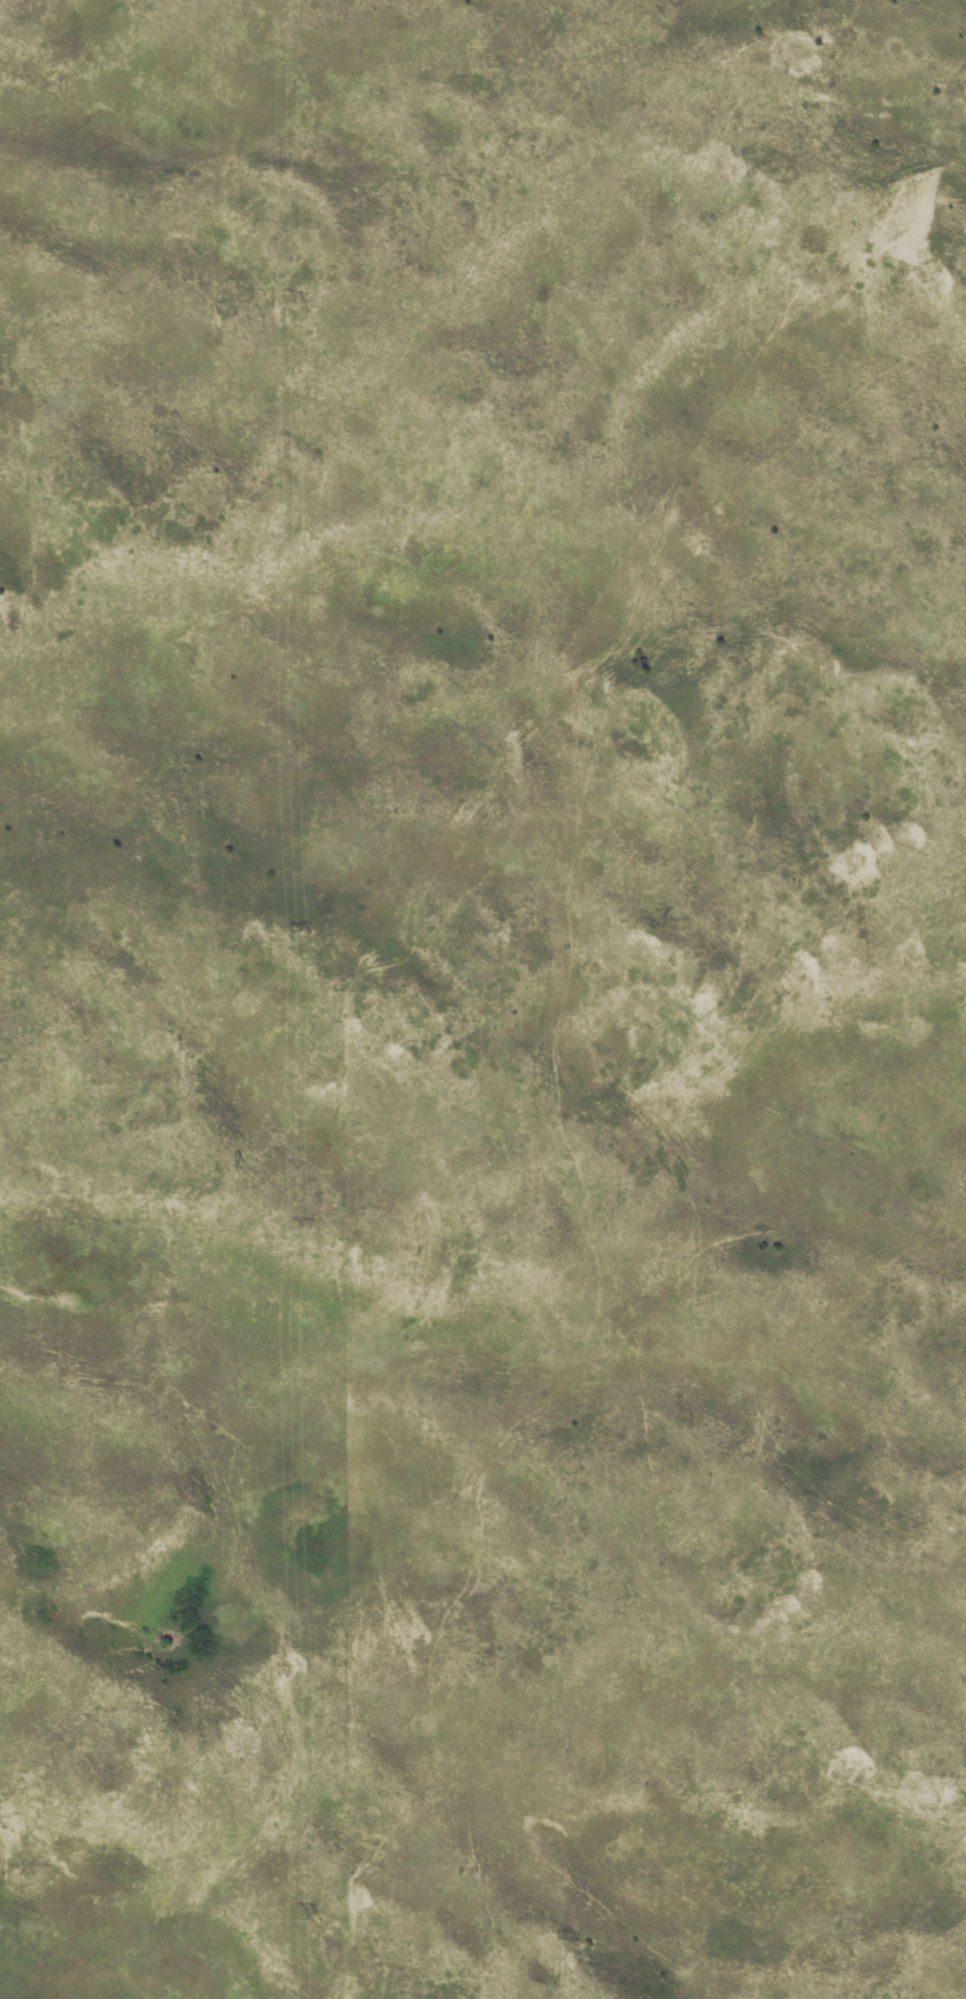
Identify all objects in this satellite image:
power tower: (303, 306)
power tower: (308, 933)
power tower: (313, 1229)
power tower: (314, 1920)

